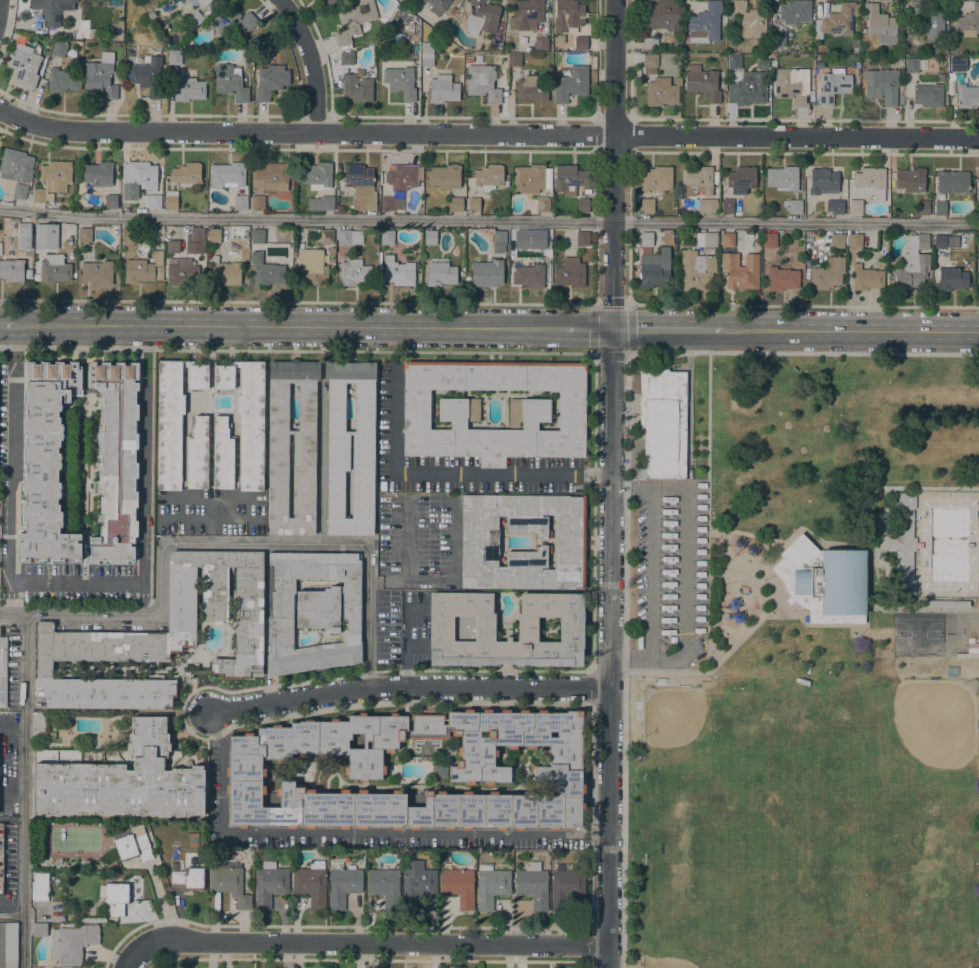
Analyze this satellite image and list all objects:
building: (424, 0)
building: (203, 2)
building: (329, 2)
building: (438, 6)
building: (52, 10)
building: (452, 10)
building: (795, 11)
building: (525, 14)
building: (659, 14)
building: (568, 15)
building: (482, 18)
building: (927, 19)
building: (193, 20)
building: (232, 20)
building: (353, 20)
building: (749, 20)
building: (836, 21)
building: (968, 21)
building: (706, 23)
building: (861, 24)
building: (880, 24)
building: (778, 39)
building: (540, 42)
building: (650, 42)
building: (580, 43)
building: (59, 49)
building: (427, 54)
building: (174, 57)
building: (346, 58)
building: (469, 59)
building: (514, 59)
building: (248, 60)
building: (459, 60)
building: (734, 61)
road: (310, 62)
building: (25, 63)
building: (650, 63)
building: (956, 64)
building: (911, 65)
building: (364, 72)
building: (101, 75)
building: (148, 76)
building: (816, 76)
building: (941, 77)
building: (63, 80)
building: (270, 81)
building: (230, 82)
building: (400, 82)
building: (702, 82)
building: (482, 83)
building: (570, 84)
building: (791, 84)
building: (833, 85)
building: (881, 85)
building: (356, 87)
building: (188, 89)
building: (443, 89)
building: (531, 89)
building: (748, 89)
building: (662, 91)
building: (928, 95)
building: (967, 95)
road: (487, 133)
building: (15, 165)
building: (98, 173)
building: (187, 174)
building: (229, 174)
building: (316, 175)
building: (402, 176)
building: (446, 176)
building: (489, 176)
building: (270, 177)
building: (782, 177)
building: (138, 178)
building: (531, 178)
building: (572, 179)
building: (654, 179)
building: (741, 179)
building: (52, 180)
building: (910, 180)
building: (696, 181)
building: (823, 181)
building: (952, 182)
building: (869, 183)
building: (360, 186)
building: (977, 188)
building: (19, 191)
building: (171, 200)
building: (111, 201)
building: (152, 201)
building: (240, 202)
building: (257, 202)
building: (5, 203)
building: (321, 203)
building: (391, 203)
building: (457, 204)
building: (473, 204)
building: (542, 204)
building: (582, 204)
building: (647, 205)
building: (707, 206)
building: (727, 206)
building: (793, 206)
building: (835, 206)
building: (855, 207)
building: (923, 207)
building: (939, 207)
building: (339, 209)
road: (489, 220)
building: (24, 229)
building: (41, 231)
building: (315, 232)
building: (84, 235)
building: (128, 235)
building: (213, 235)
building: (257, 236)
building: (326, 236)
building: (349, 237)
building: (387, 237)
building: (430, 237)
building: (516, 238)
building: (646, 238)
building: (582, 239)
building: (706, 239)
building: (726, 239)
building: (769, 240)
building: (837, 240)
building: (195, 241)
building: (499, 241)
building: (855, 241)
building: (918, 241)
building: (945, 241)
building: (172, 245)
building: (645, 250)
building: (978, 253)
building: (226, 254)
building: (977, 264)
building: (310, 267)
building: (143, 268)
building: (54, 269)
building: (265, 269)
building: (654, 269)
building: (11, 270)
building: (696, 270)
building: (225, 271)
building: (740, 271)
building: (911, 271)
building: (181, 272)
building: (354, 272)
building: (399, 272)
building: (440, 272)
building: (569, 272)
building: (97, 273)
building: (486, 273)
building: (827, 274)
building: (529, 276)
building: (782, 278)
building: (866, 278)
building: (952, 278)
road: (7, 325)
road: (289, 328)
road: (587, 329)
traffic signals: (611, 329)
road: (666, 330)
road: (851, 331)
road: (687, 398)
building: (458, 410)
building: (663, 423)
building: (180, 428)
building: (240, 429)
building: (304, 451)
building: (363, 452)
building: (46, 460)
building: (116, 461)
road: (452, 474)
road: (611, 483)
road: (631, 487)
road: (902, 489)
road: (708, 521)
parking lot: (419, 541)
road: (224, 542)
building: (480, 542)
building: (903, 543)
road: (650, 572)
parking lot: (666, 572)
road: (686, 572)
road: (735, 574)
road: (881, 576)
building: (824, 581)
road: (68, 582)
road: (8, 597)
road: (142, 599)
building: (948, 604)
building: (313, 611)
road: (865, 611)
building: (462, 626)
parking lot: (402, 628)
park: (922, 631)
building: (160, 636)
road: (408, 639)
road: (713, 649)
road: (727, 649)
building: (969, 650)
road: (629, 657)
park: (803, 662)
building: (2, 671)
road: (408, 688)
road: (1, 725)
building: (50, 739)
building: (93, 741)
building: (442, 769)
building: (479, 771)
building: (122, 777)
parking lot: (217, 779)
road: (23, 792)
park: (802, 820)
road: (356, 833)
building: (132, 843)
building: (566, 856)
building: (1, 859)
building: (108, 863)
building: (188, 878)
building: (229, 882)
building: (269, 883)
building: (311, 883)
building: (417, 883)
building: (342, 884)
building: (491, 885)
building: (533, 885)
building: (565, 885)
building: (385, 886)
building: (459, 886)
building: (40, 887)
building: (114, 897)
building: (90, 919)
building: (40, 929)
building: (72, 943)
road: (367, 944)
building: (10, 945)
road: (126, 955)

